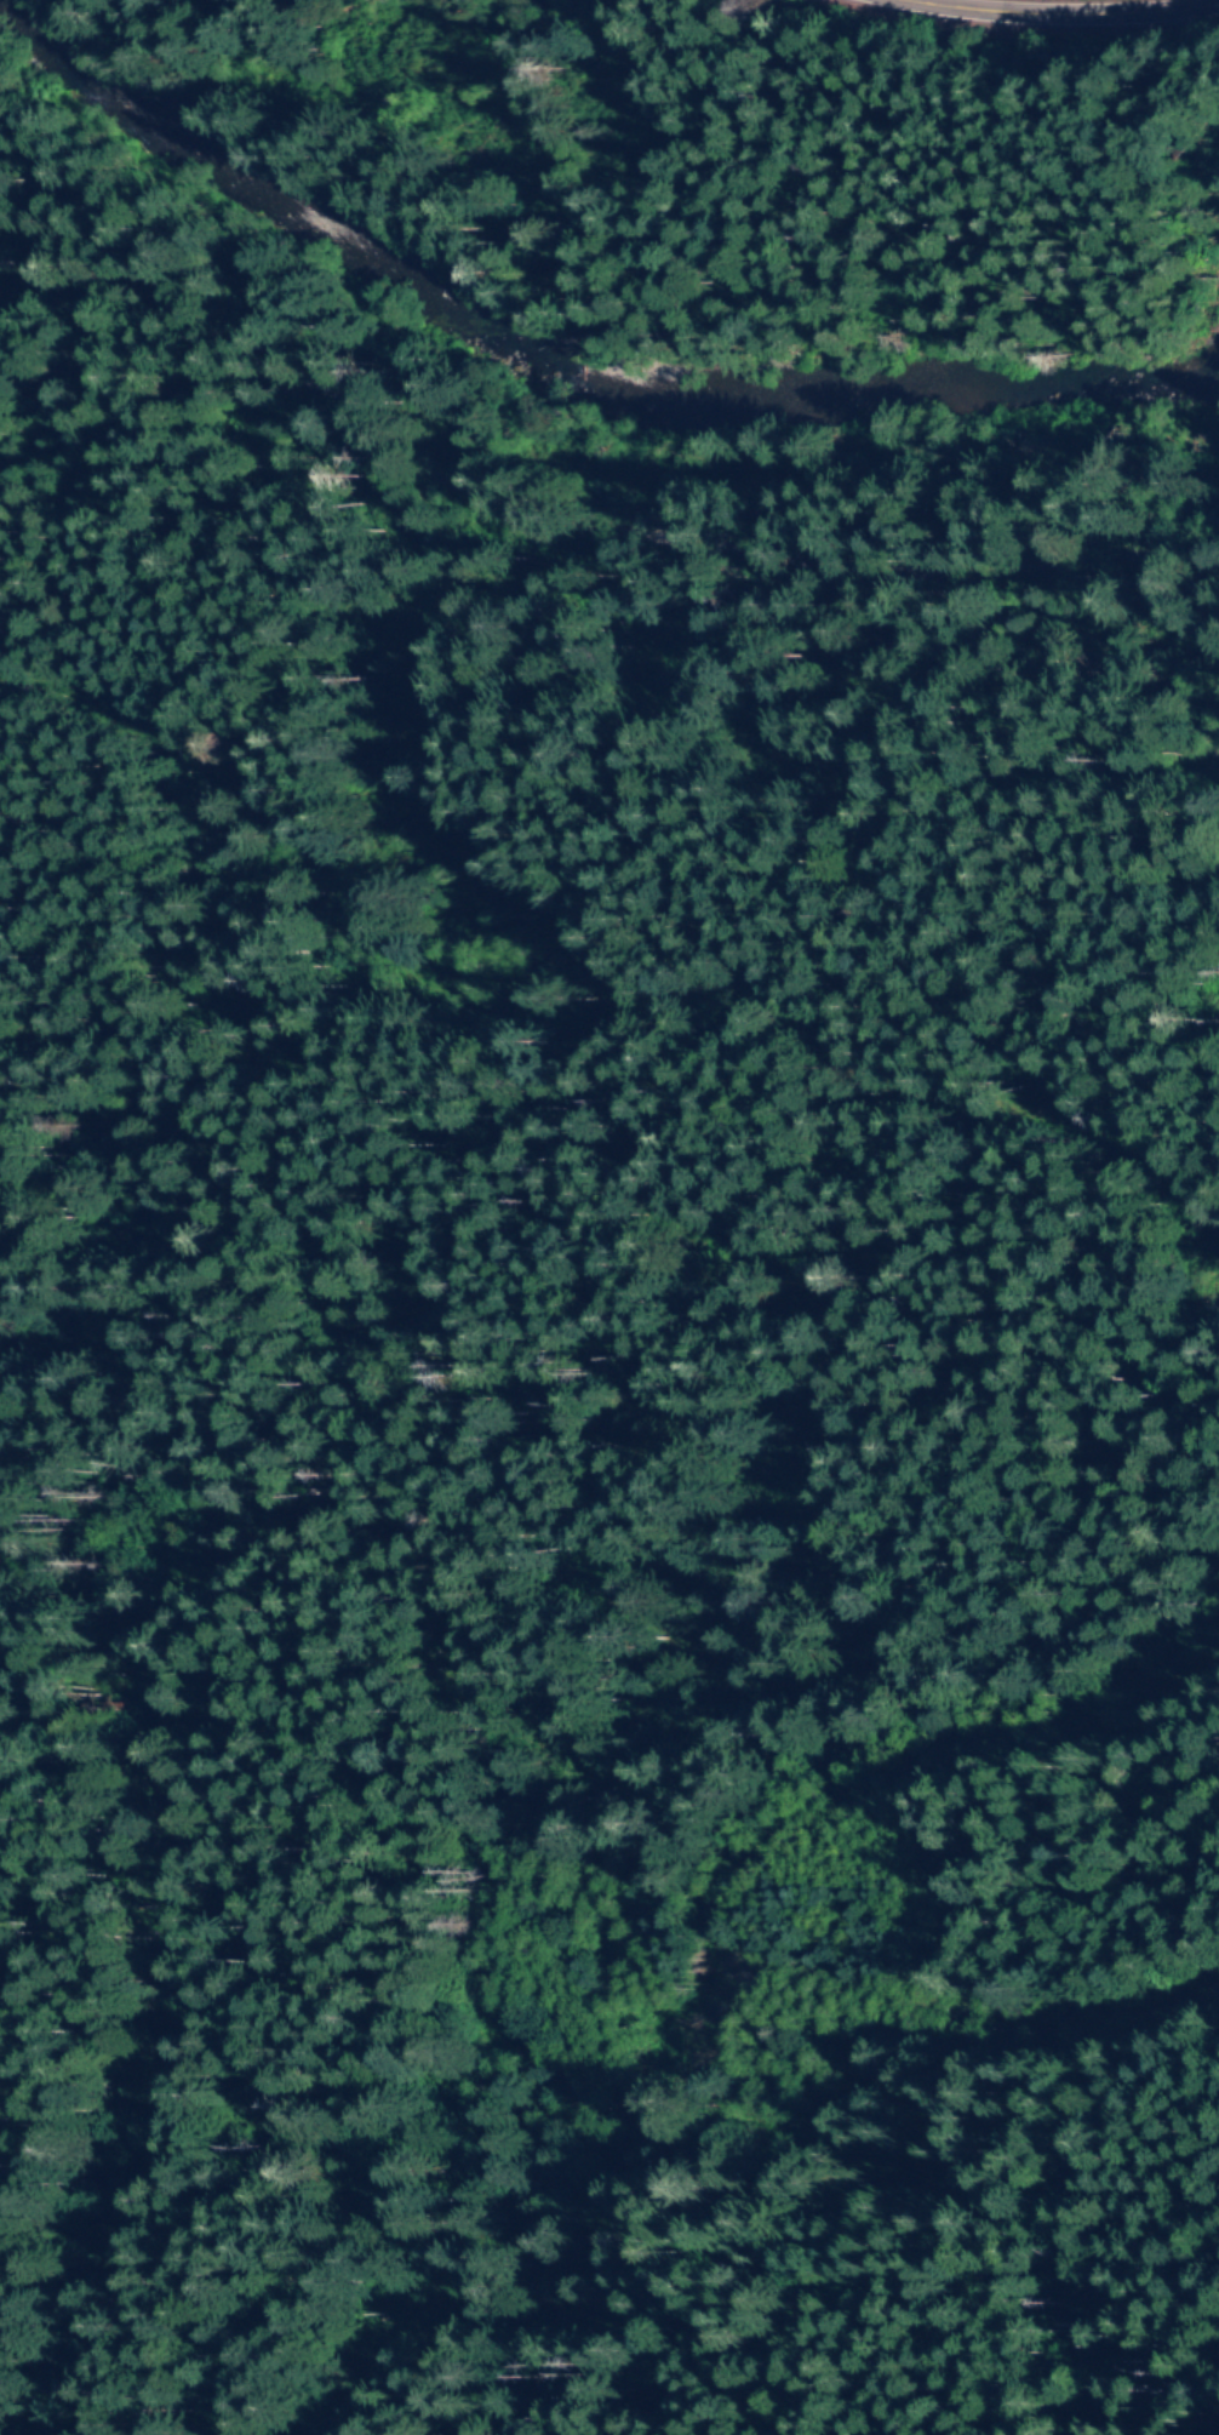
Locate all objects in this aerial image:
road: (1059, 16)
parking lot: (1215, 21)
river: (586, 388)
road: (603, 482)
road: (585, 1045)
road: (748, 1908)

